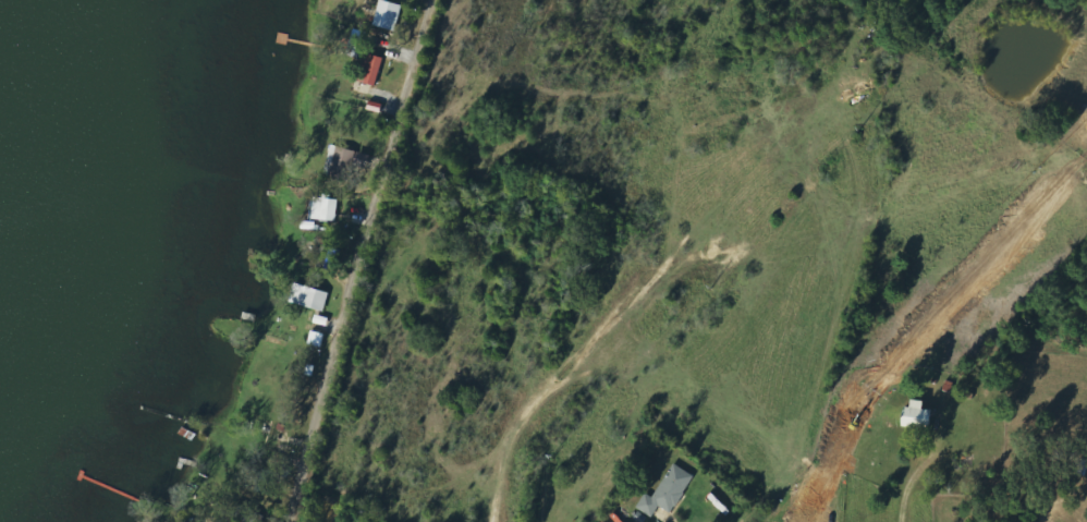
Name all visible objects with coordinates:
building: (389, 15)
building: (371, 70)
building: (346, 160)
building: (326, 208)
road: (362, 260)
building: (310, 296)
building: (317, 339)
building: (919, 415)
road: (911, 485)
building: (669, 493)

